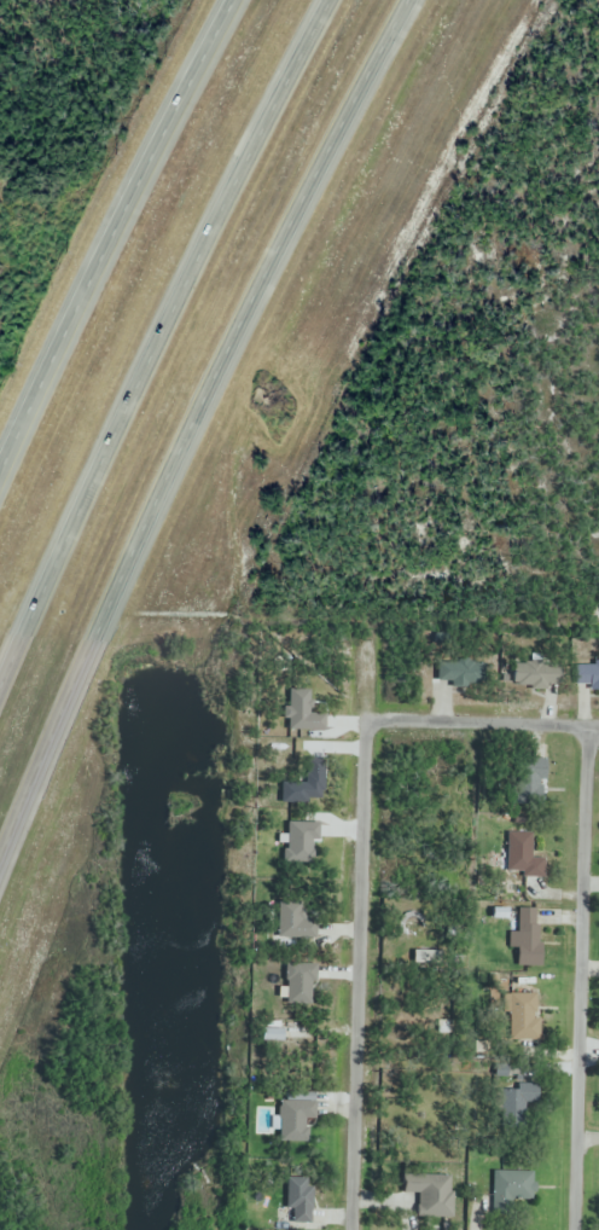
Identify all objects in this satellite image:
road: (115, 239)
road: (161, 354)
road: (197, 420)
building: (460, 673)
building: (536, 675)
building: (587, 675)
road: (482, 725)
building: (528, 781)
building: (521, 857)
building: (528, 924)
building: (527, 961)
road: (582, 979)
road: (355, 980)
building: (524, 1017)
building: (518, 1098)
building: (295, 1120)
building: (513, 1185)
building: (431, 1196)
building: (298, 1201)

